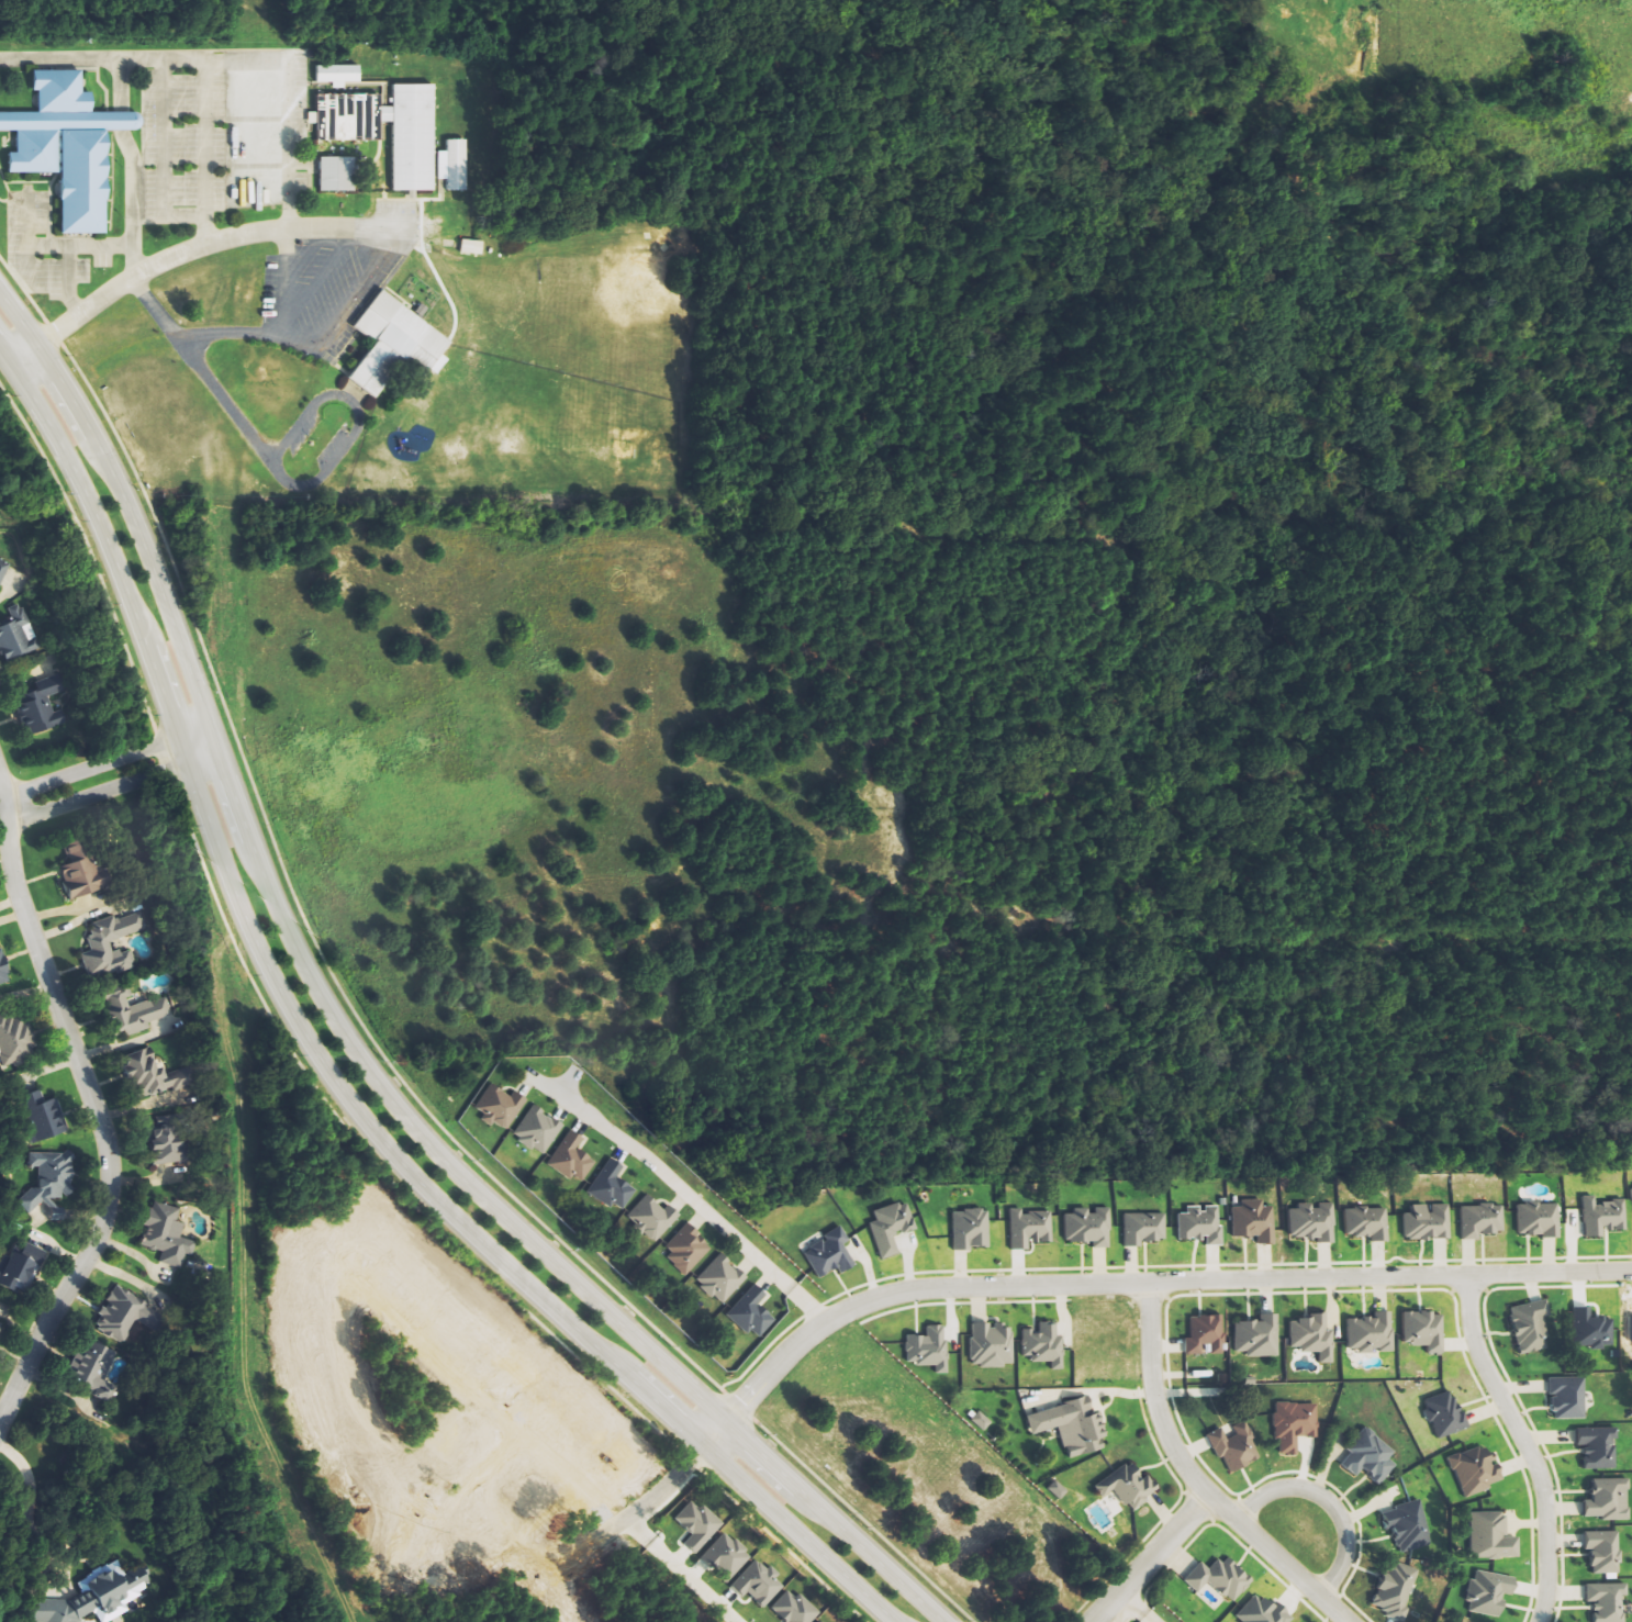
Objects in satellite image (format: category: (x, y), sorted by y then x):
road: (86, 60)
building: (335, 74)
road: (378, 88)
road: (286, 102)
road: (200, 112)
building: (342, 116)
road: (243, 119)
road: (223, 120)
building: (111, 121)
road: (121, 121)
building: (15, 122)
road: (259, 123)
building: (407, 138)
building: (62, 149)
road: (163, 156)
road: (441, 165)
building: (454, 165)
road: (377, 172)
building: (334, 174)
road: (443, 187)
road: (438, 190)
road: (2, 197)
road: (132, 202)
road: (204, 244)
road: (52, 245)
road: (301, 254)
road: (27, 264)
road: (398, 266)
road: (322, 268)
road: (69, 280)
road: (278, 283)
parking lot: (322, 290)
road: (156, 311)
road: (315, 342)
building: (389, 346)
road: (19, 354)
road: (414, 376)
road: (225, 402)
road: (356, 421)
park: (570, 438)
traffic signals: (130, 519)
building: (3, 570)
building: (15, 634)
building: (41, 707)
road: (195, 749)
road: (87, 769)
road: (93, 794)
road: (0, 805)
building: (82, 873)
road: (283, 882)
building: (111, 946)
building: (3, 969)
building: (132, 1014)
building: (14, 1042)
road: (345, 1045)
road: (326, 1072)
building: (154, 1076)
building: (501, 1106)
building: (43, 1117)
road: (96, 1118)
building: (538, 1130)
building: (168, 1139)
building: (570, 1160)
building: (51, 1183)
building: (613, 1185)
road: (682, 1190)
building: (1603, 1216)
building: (651, 1218)
building: (1539, 1219)
building: (1482, 1220)
building: (1254, 1221)
building: (1428, 1221)
building: (1314, 1222)
building: (1367, 1222)
building: (1200, 1223)
building: (891, 1227)
building: (1088, 1227)
building: (1030, 1228)
building: (1143, 1228)
building: (971, 1229)
building: (167, 1235)
building: (688, 1250)
building: (829, 1254)
building: (21, 1268)
building: (722, 1278)
road: (1073, 1285)
building: (752, 1312)
building: (119, 1313)
building: (0, 1323)
building: (1530, 1328)
building: (1591, 1329)
building: (1424, 1330)
building: (1372, 1333)
building: (1205, 1334)
building: (1257, 1336)
building: (1312, 1336)
building: (992, 1344)
building: (1044, 1345)
building: (928, 1347)
building: (94, 1369)
building: (1567, 1397)
road: (736, 1408)
building: (1445, 1414)
building: (981, 1421)
building: (1295, 1424)
building: (1072, 1427)
road: (1522, 1444)
building: (1236, 1446)
building: (1598, 1447)
building: (1370, 1456)
building: (1476, 1470)
road: (1192, 1479)
building: (1128, 1485)
building: (1058, 1489)
building: (1608, 1500)
road: (1323, 1502)
road: (859, 1521)
building: (698, 1525)
building: (1407, 1525)
building: (1491, 1536)
building: (1603, 1552)
building: (727, 1556)
road: (1150, 1558)
building: (1220, 1578)
building: (758, 1584)
building: (1395, 1589)
building: (1489, 1592)
building: (1607, 1601)
building: (795, 1608)
road: (1131, 1609)
building: (1261, 1611)
building: (824, 1621)

